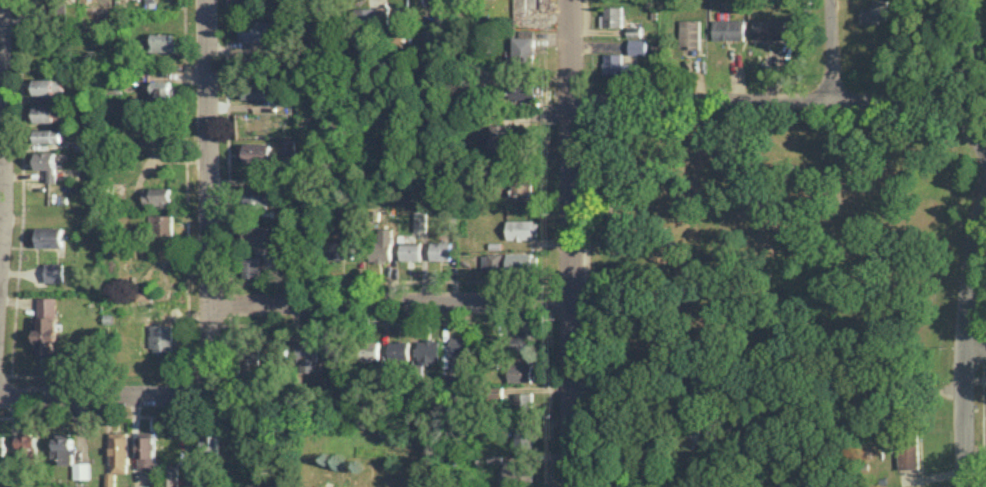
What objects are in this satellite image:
building: (532, 5)
building: (873, 12)
building: (365, 13)
building: (613, 15)
building: (728, 28)
building: (768, 28)
building: (254, 29)
road: (0, 31)
building: (690, 36)
building: (430, 37)
building: (397, 38)
building: (164, 42)
building: (637, 46)
building: (524, 49)
road: (830, 51)
building: (257, 61)
building: (618, 64)
building: (48, 86)
road: (226, 87)
building: (159, 89)
building: (252, 89)
building: (523, 89)
road: (789, 103)
building: (49, 112)
road: (512, 112)
building: (50, 134)
building: (500, 138)
building: (287, 146)
building: (254, 152)
building: (46, 163)
road: (250, 182)
building: (520, 185)
road: (186, 189)
road: (209, 193)
building: (158, 196)
building: (255, 200)
building: (419, 223)
building: (160, 224)
building: (522, 228)
building: (254, 234)
building: (48, 236)
road: (571, 243)
building: (381, 244)
building: (339, 247)
park: (773, 248)
building: (440, 250)
building: (410, 251)
building: (492, 261)
building: (519, 262)
building: (251, 266)
building: (55, 271)
building: (142, 293)
road: (391, 302)
building: (46, 323)
road: (966, 332)
building: (160, 336)
building: (496, 338)
building: (521, 342)
road: (975, 349)
building: (369, 350)
building: (399, 350)
building: (429, 350)
building: (334, 351)
building: (456, 351)
building: (250, 352)
building: (307, 355)
building: (519, 372)
road: (103, 395)
building: (523, 401)
road: (838, 418)
building: (691, 434)
building: (523, 435)
building: (211, 441)
building: (2, 444)
building: (26, 446)
building: (63, 447)
building: (119, 451)
building: (908, 455)
building: (494, 457)
building: (81, 470)
building: (518, 470)
building: (171, 475)

